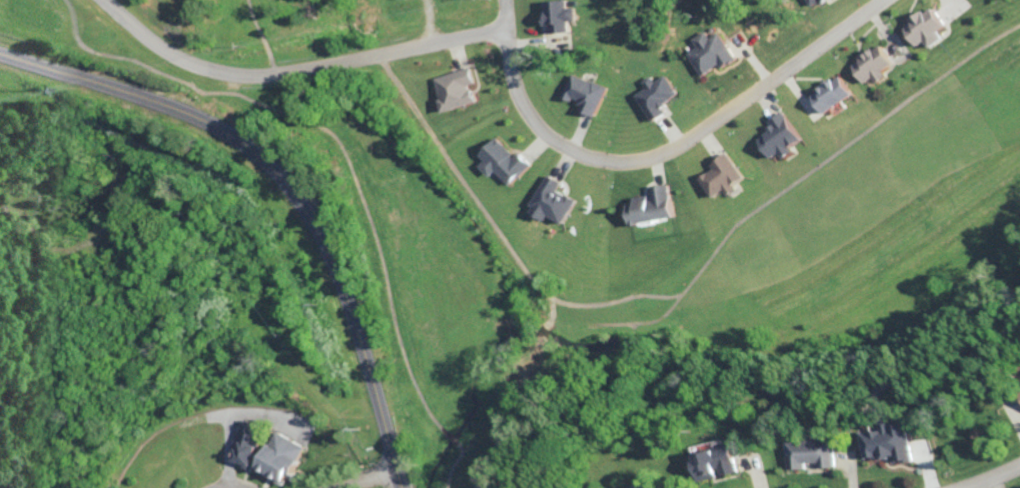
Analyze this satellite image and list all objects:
building: (819, 0)
building: (810, 1)
building: (555, 14)
building: (921, 26)
building: (708, 51)
building: (870, 64)
road: (293, 73)
building: (452, 88)
building: (583, 93)
building: (828, 93)
building: (653, 95)
building: (777, 136)
road: (660, 155)
building: (500, 160)
building: (719, 175)
road: (286, 191)
road: (124, 196)
building: (548, 200)
building: (649, 204)
building: (1019, 392)
building: (242, 442)
building: (886, 442)
building: (809, 453)
building: (274, 456)
building: (712, 461)
road: (985, 476)
road: (363, 478)
road: (1006, 478)
building: (636, 485)
road: (227, 487)

